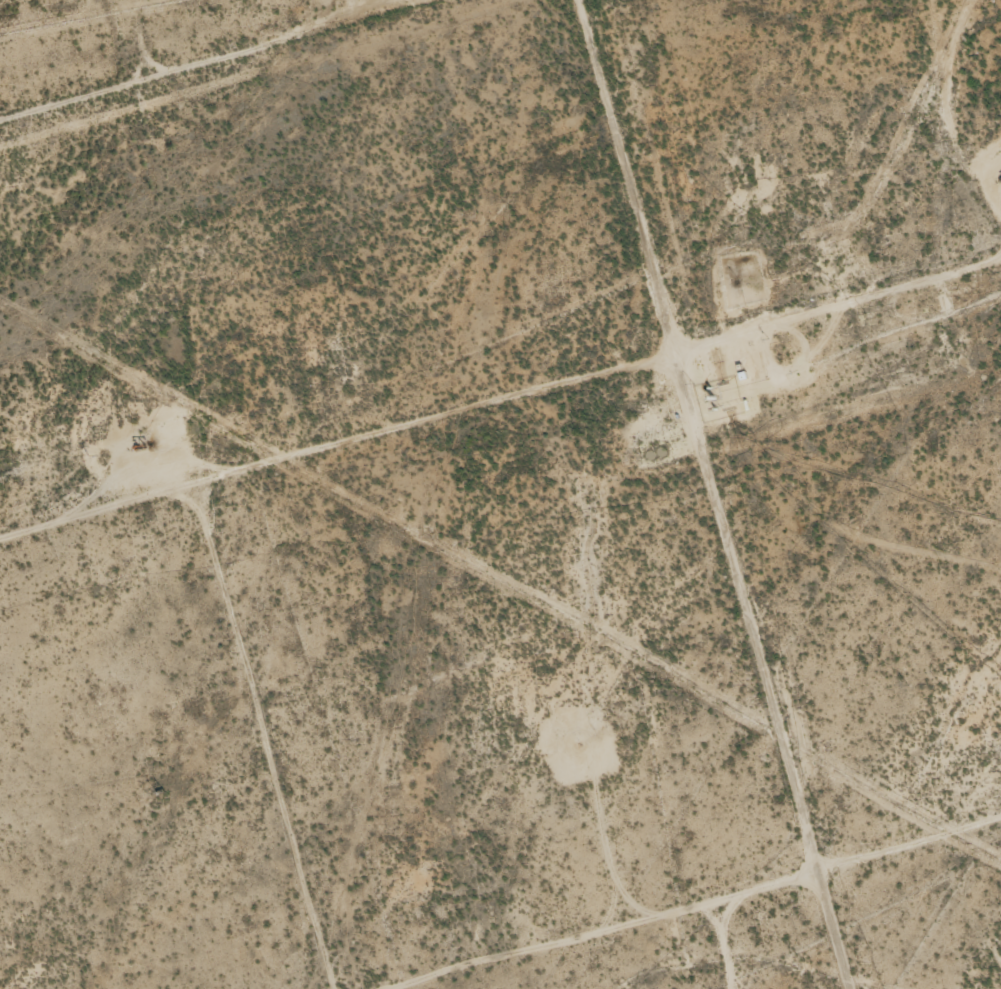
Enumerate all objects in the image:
road: (500, 397)
road: (728, 494)
road: (268, 739)

